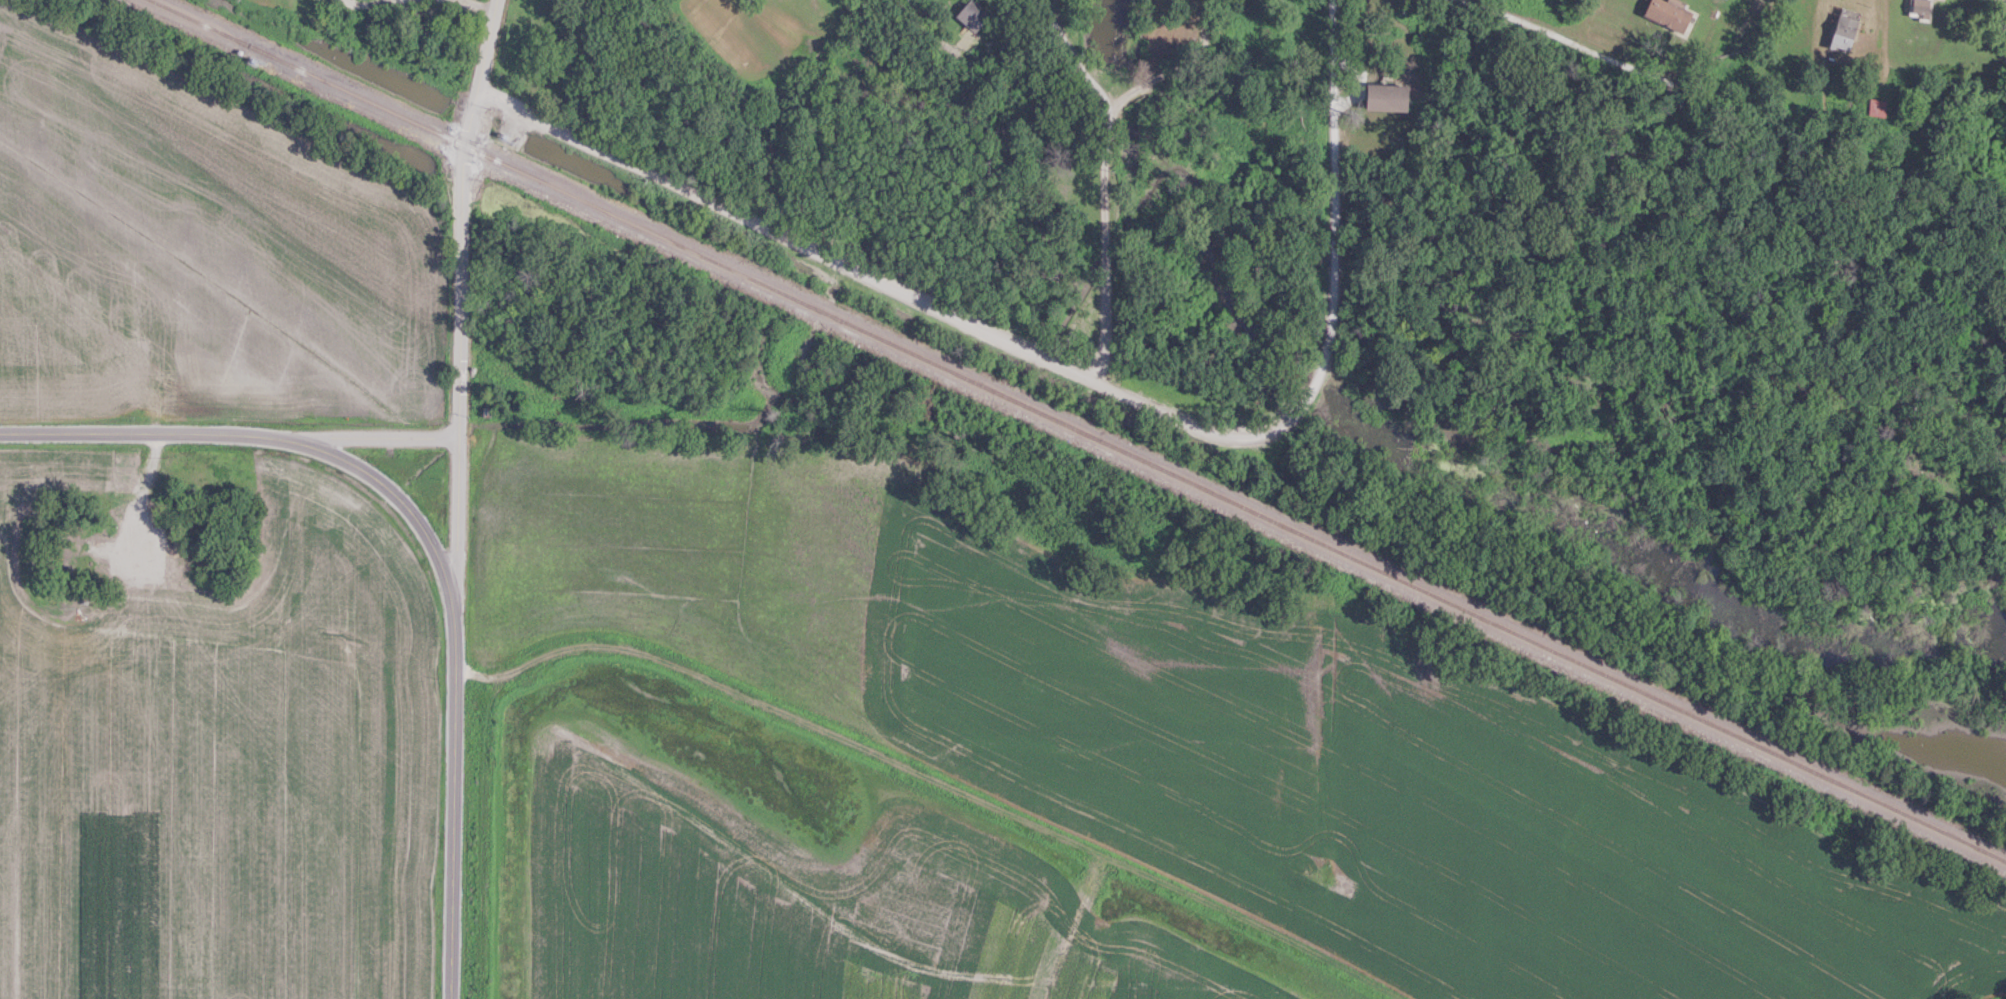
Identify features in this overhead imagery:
road: (421, 5)
road: (919, 24)
road: (1580, 47)
road: (1086, 60)
road: (1188, 67)
road: (1336, 156)
road: (462, 216)
road: (1114, 252)
road: (932, 306)
railway: (1079, 430)
road: (353, 435)
road: (426, 539)
road: (455, 540)
road: (933, 779)

